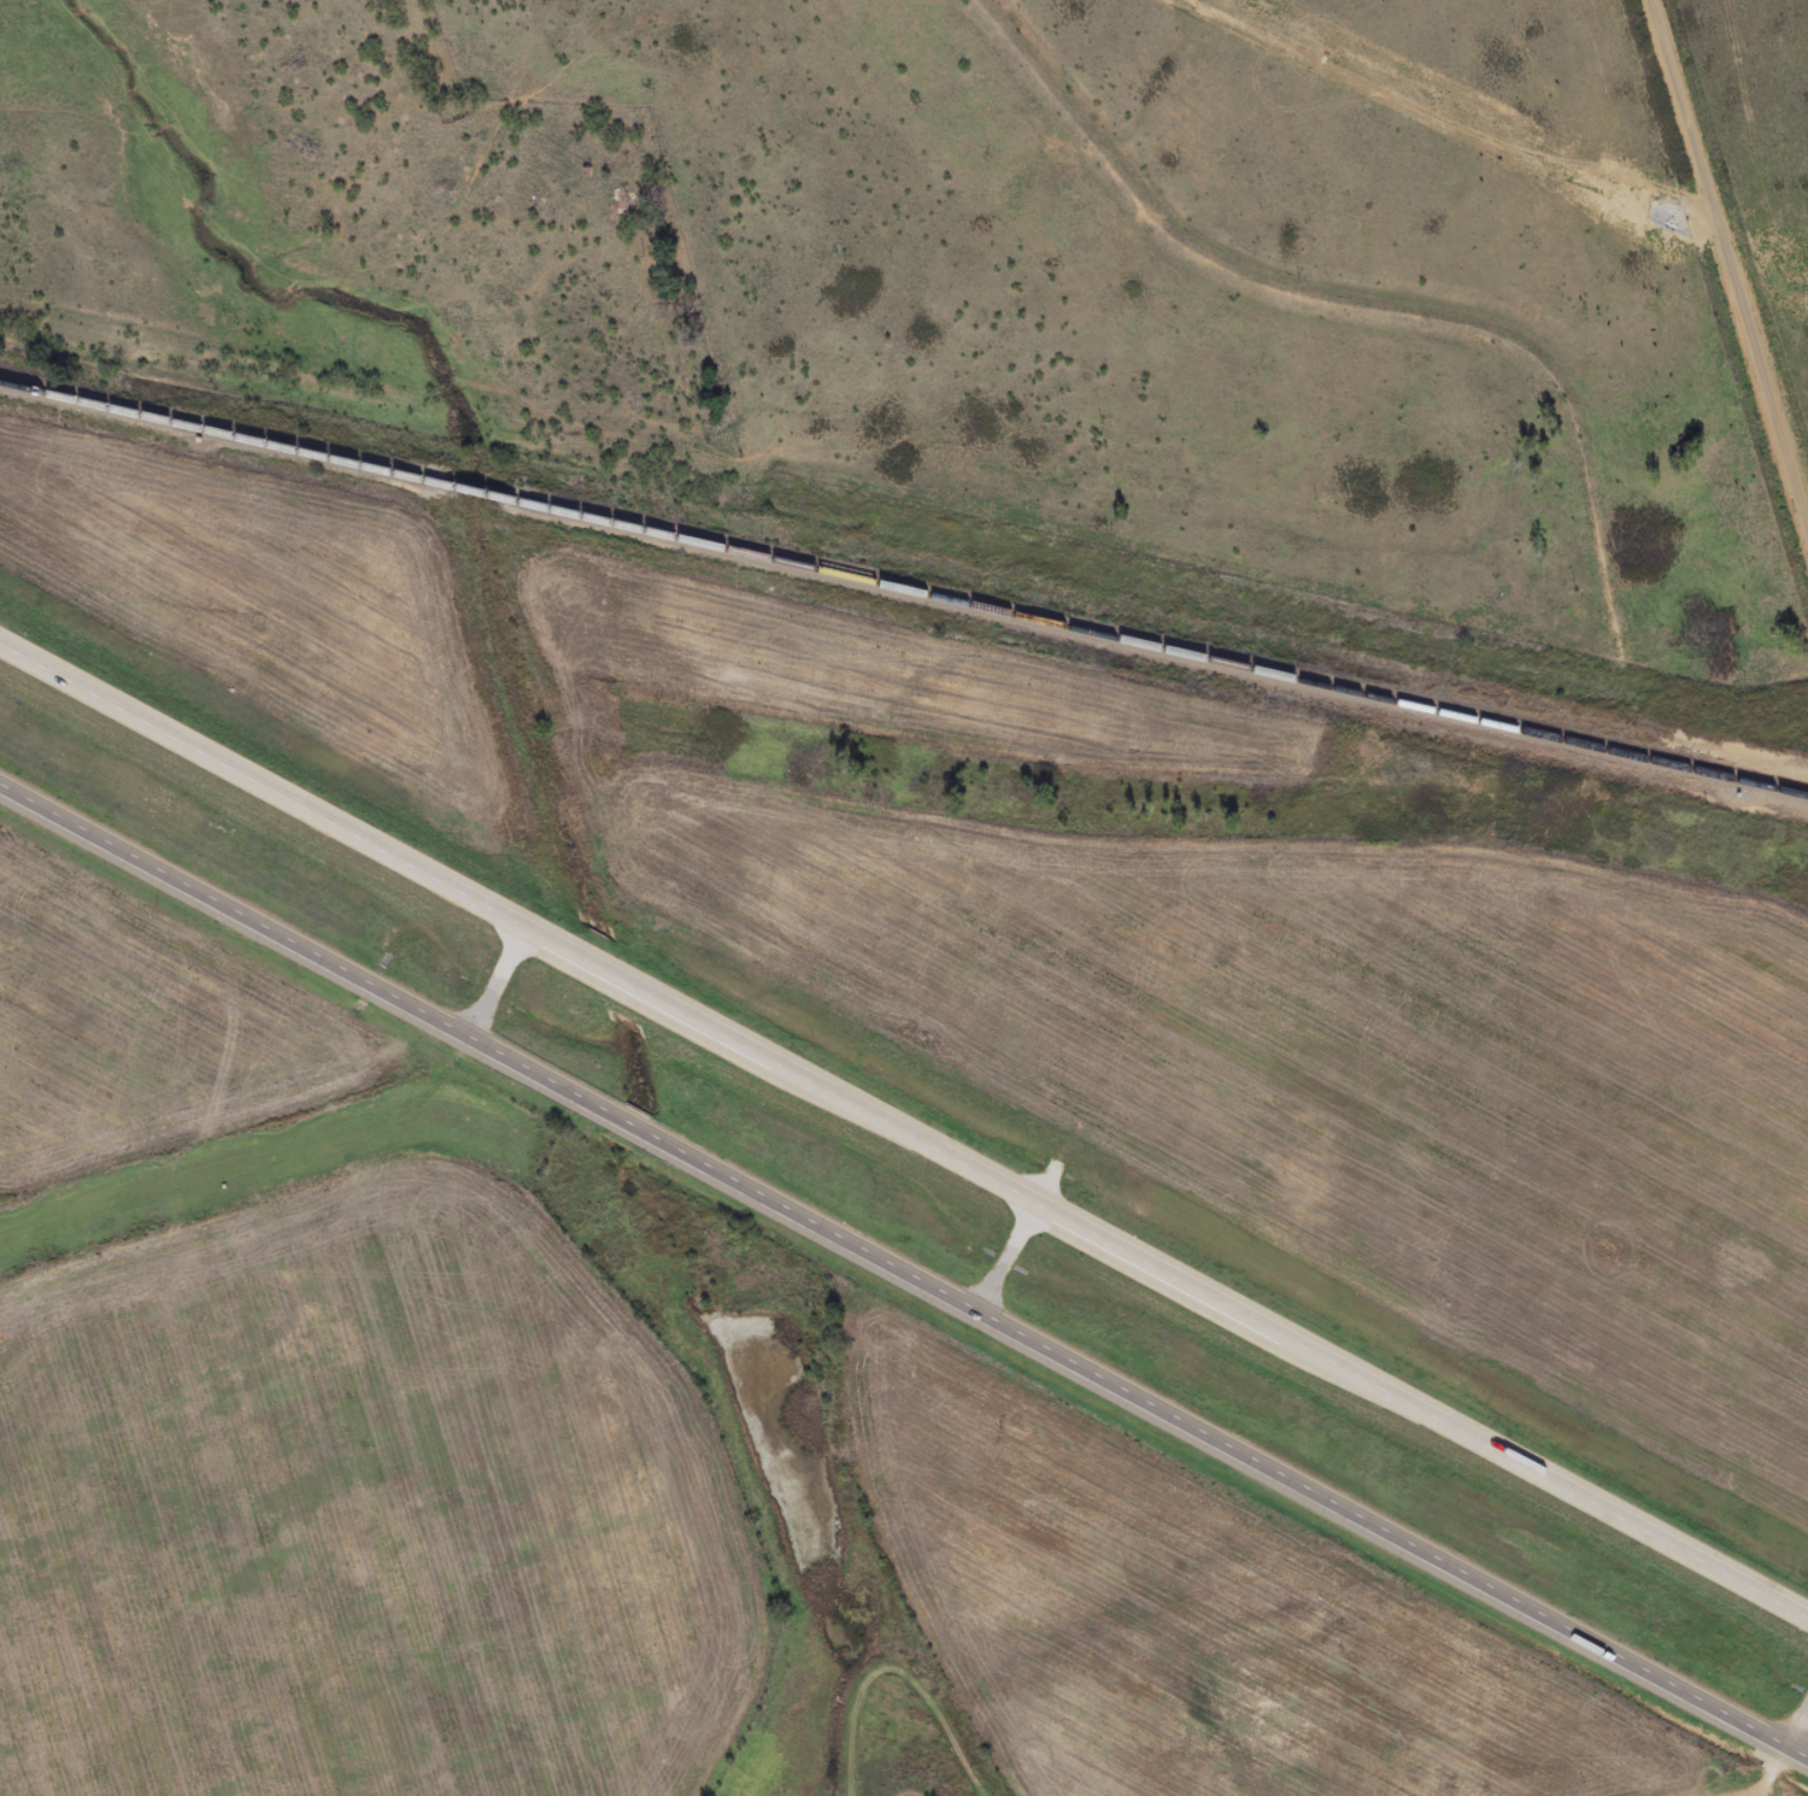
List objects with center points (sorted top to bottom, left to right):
road: (1728, 265)
road: (1168, 534)
railway: (903, 588)
road: (903, 1135)
road: (903, 1273)
road: (1775, 1754)

